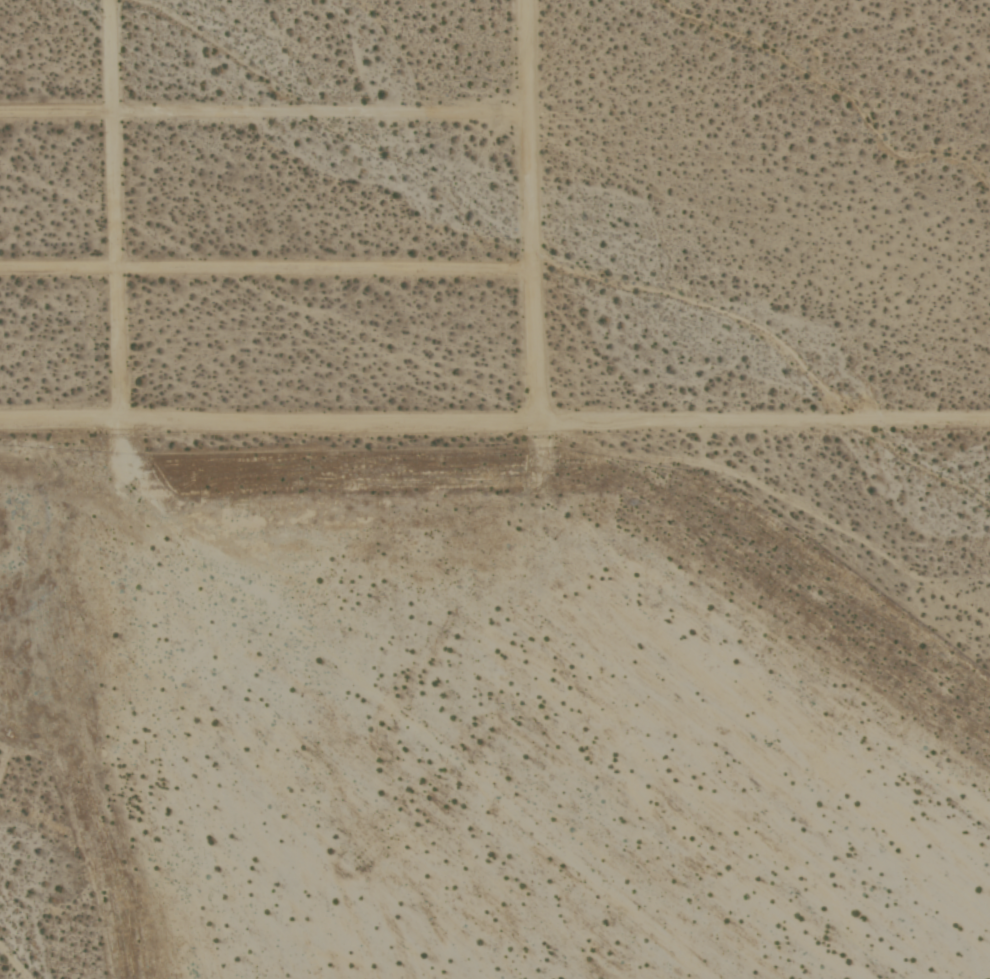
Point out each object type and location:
road: (263, 111)
road: (114, 209)
road: (529, 211)
road: (265, 265)
road: (763, 417)
road: (268, 420)

